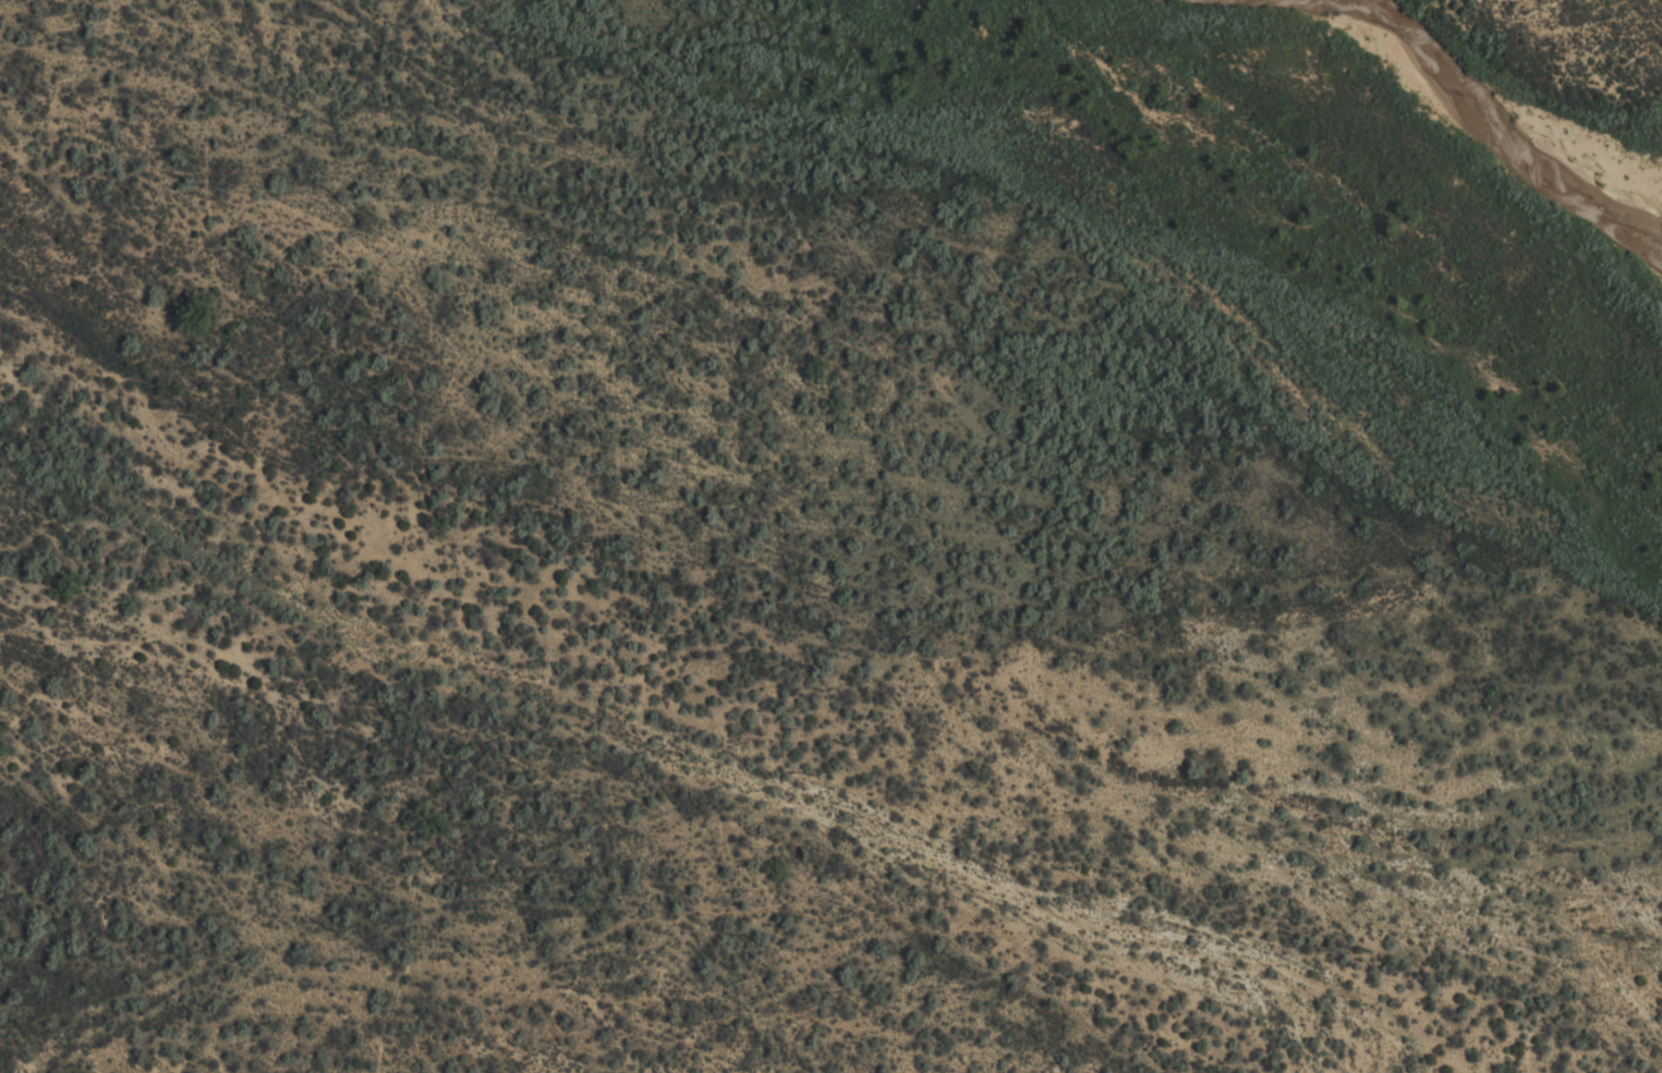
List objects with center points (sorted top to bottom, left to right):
river: (1490, 96)

